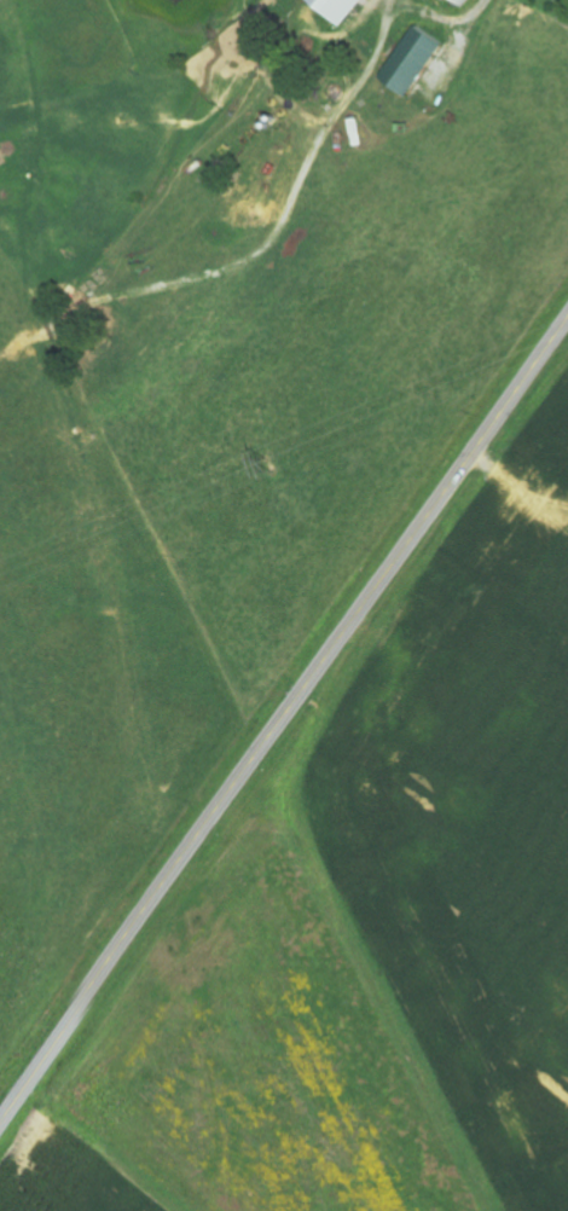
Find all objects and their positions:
building: (465, 1)
building: (346, 8)
building: (419, 62)
road: (283, 720)

